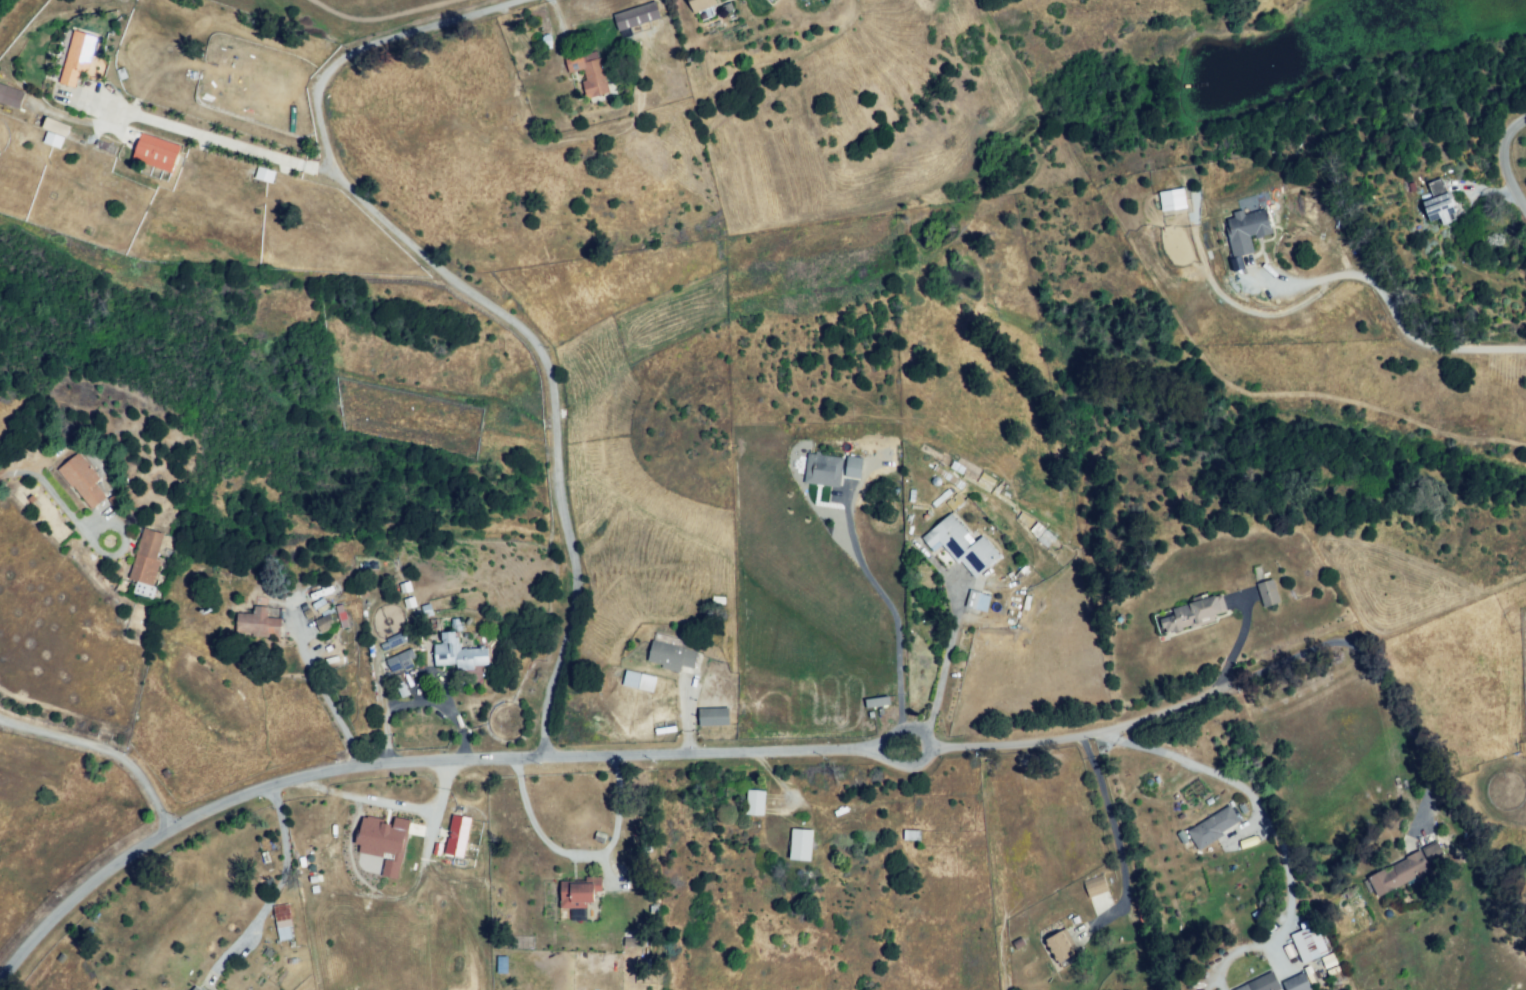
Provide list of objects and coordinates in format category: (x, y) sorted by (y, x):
building: (768, 1)
building: (699, 5)
building: (638, 19)
building: (80, 64)
building: (585, 72)
building: (0, 83)
building: (11, 99)
building: (54, 126)
road: (211, 137)
building: (52, 139)
road: (1508, 150)
building: (155, 155)
building: (263, 174)
building: (1436, 188)
building: (1171, 199)
building: (1439, 214)
building: (1248, 230)
road: (477, 293)
road: (1393, 308)
building: (853, 468)
building: (821, 471)
building: (73, 477)
road: (47, 490)
building: (1040, 534)
building: (962, 547)
building: (144, 556)
building: (143, 589)
building: (1266, 593)
building: (982, 603)
building: (1188, 614)
road: (891, 618)
building: (258, 624)
building: (324, 626)
building: (393, 645)
building: (459, 655)
building: (669, 658)
building: (400, 666)
road: (942, 675)
building: (637, 680)
road: (328, 701)
building: (876, 706)
road: (450, 714)
building: (712, 717)
road: (1046, 742)
road: (104, 752)
road: (399, 760)
road: (1246, 785)
road: (389, 802)
building: (753, 805)
road: (1109, 821)
building: (1211, 828)
building: (456, 835)
building: (910, 836)
building: (382, 842)
building: (800, 843)
building: (1431, 852)
road: (576, 854)
building: (1397, 873)
road: (273, 888)
building: (1096, 889)
building: (575, 895)
building: (283, 924)
building: (631, 941)
building: (1308, 943)
building: (1058, 951)
building: (500, 964)
building: (1331, 964)
building: (1260, 984)
building: (1298, 986)
building: (197, 989)

